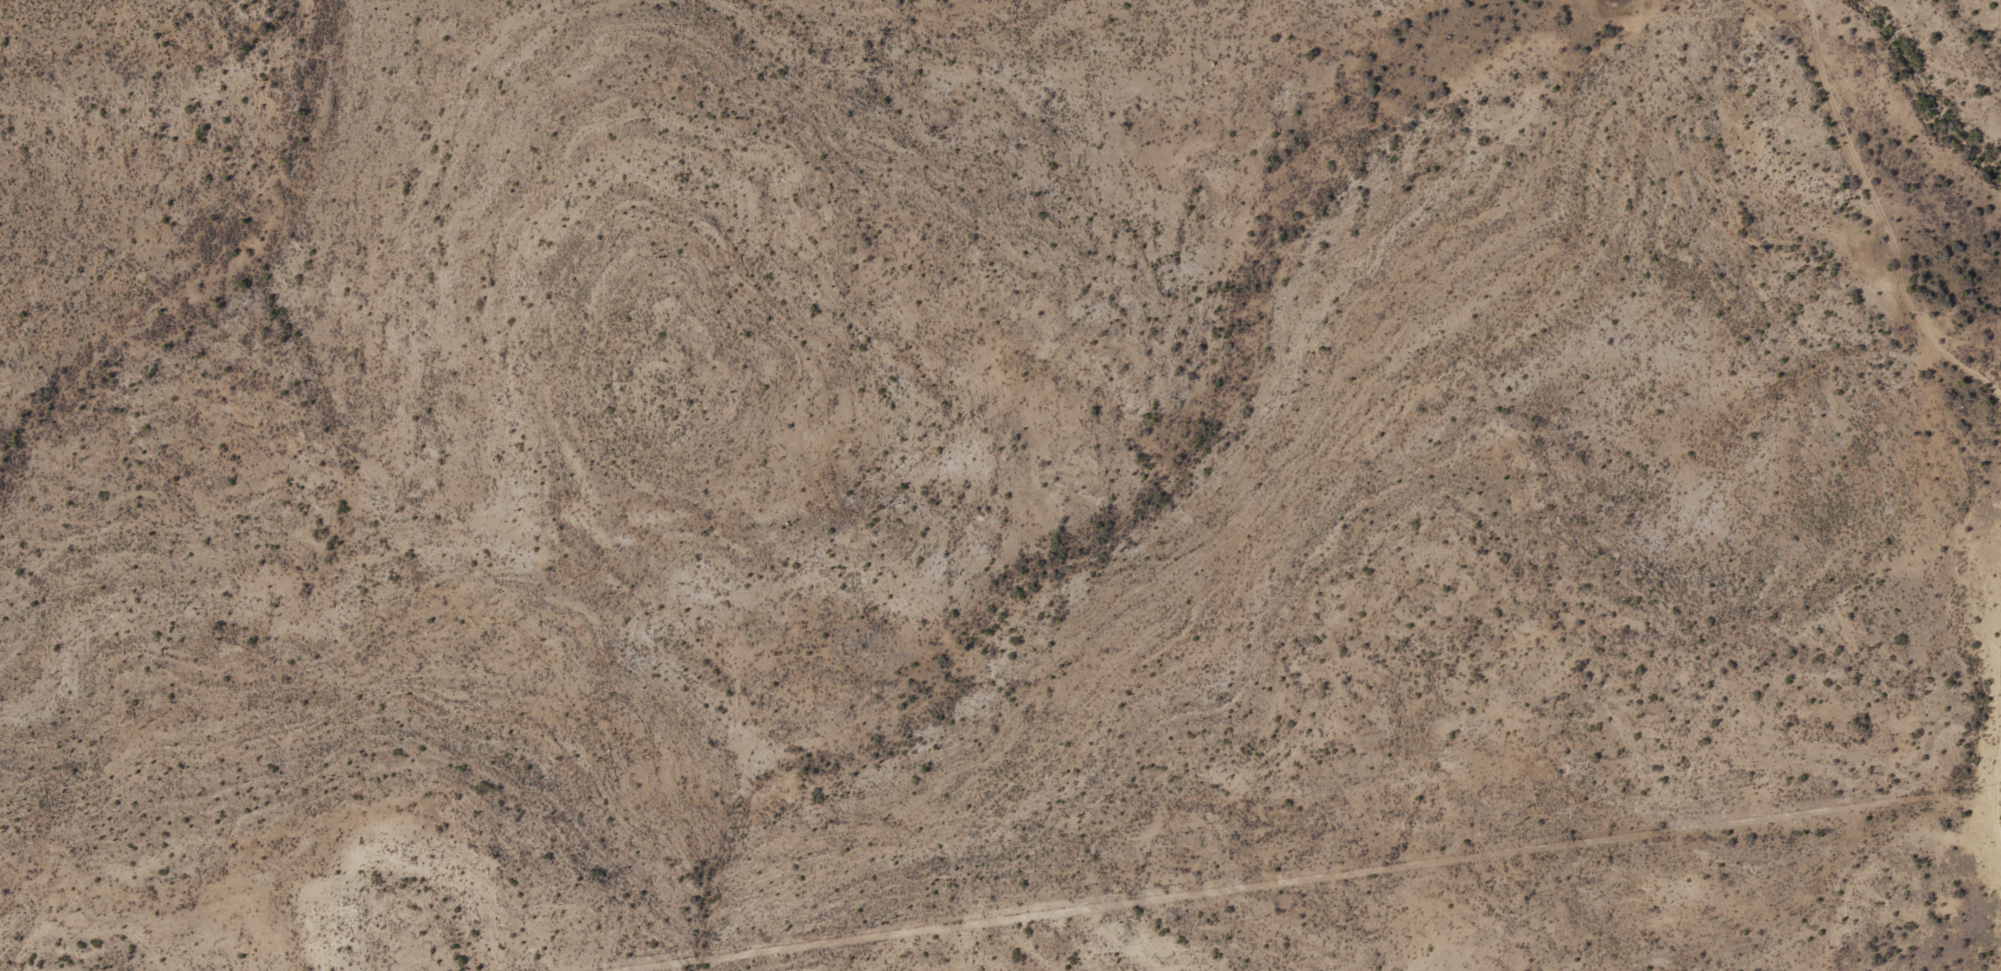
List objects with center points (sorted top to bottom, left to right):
road: (1942, 446)

